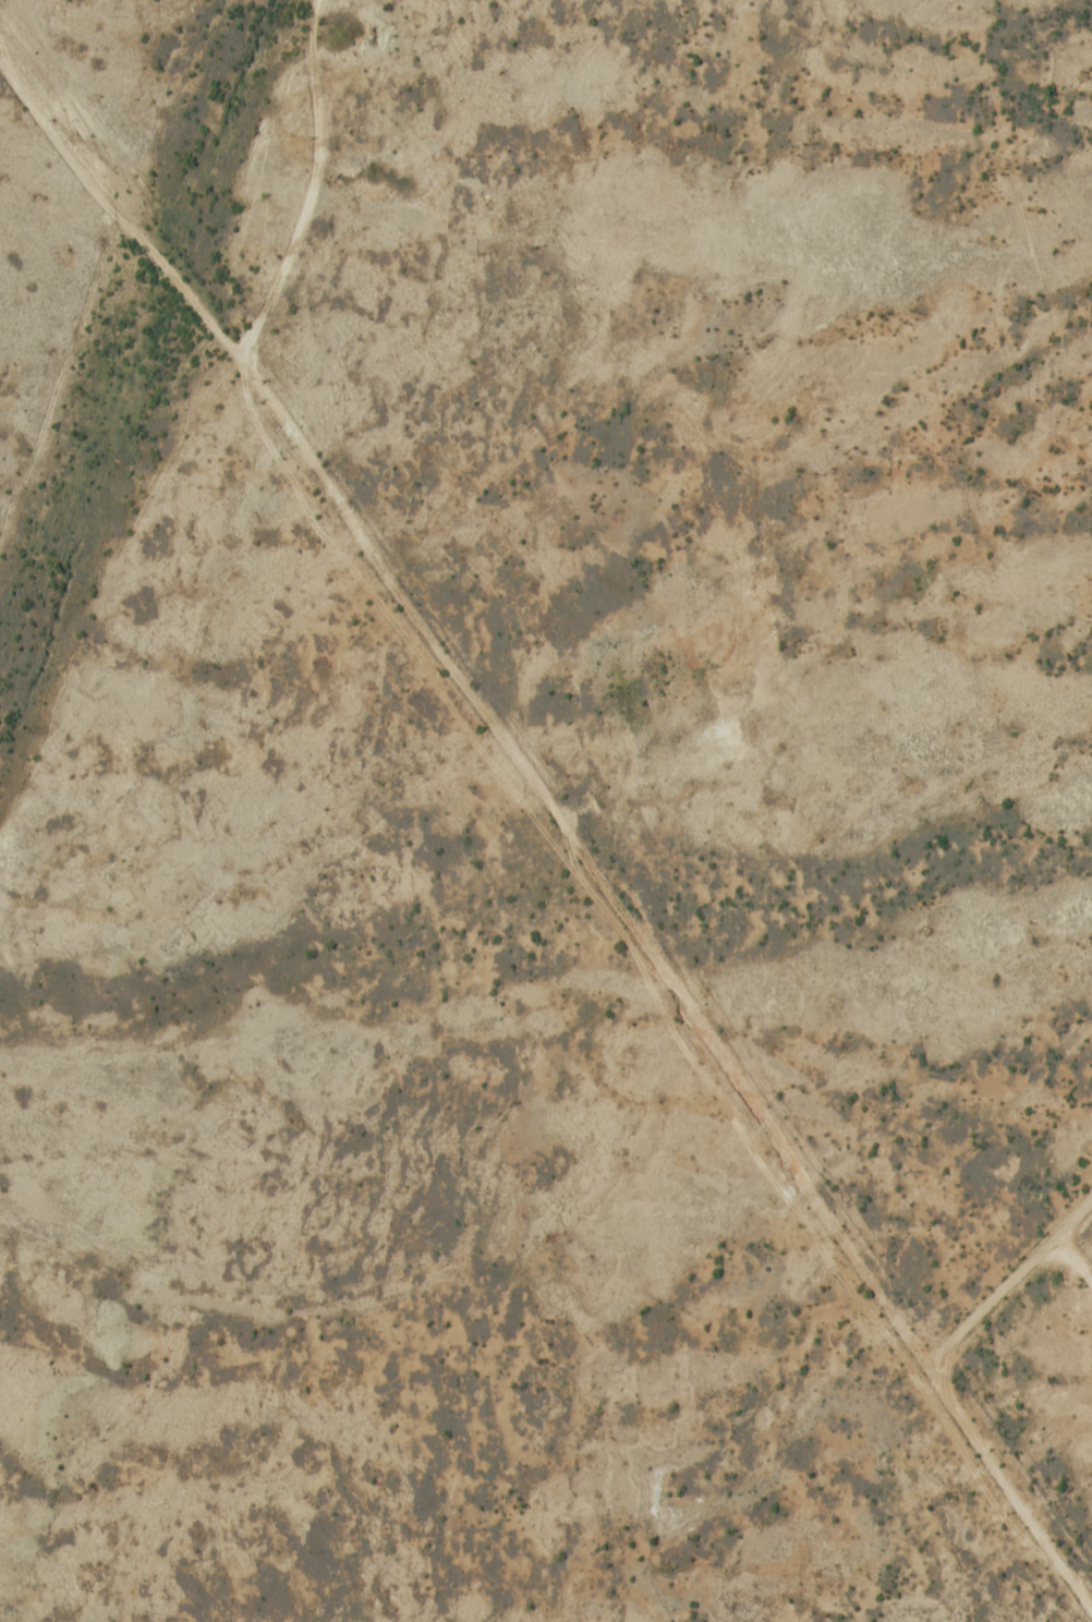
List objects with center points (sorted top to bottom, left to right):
road: (315, 181)
road: (560, 814)

